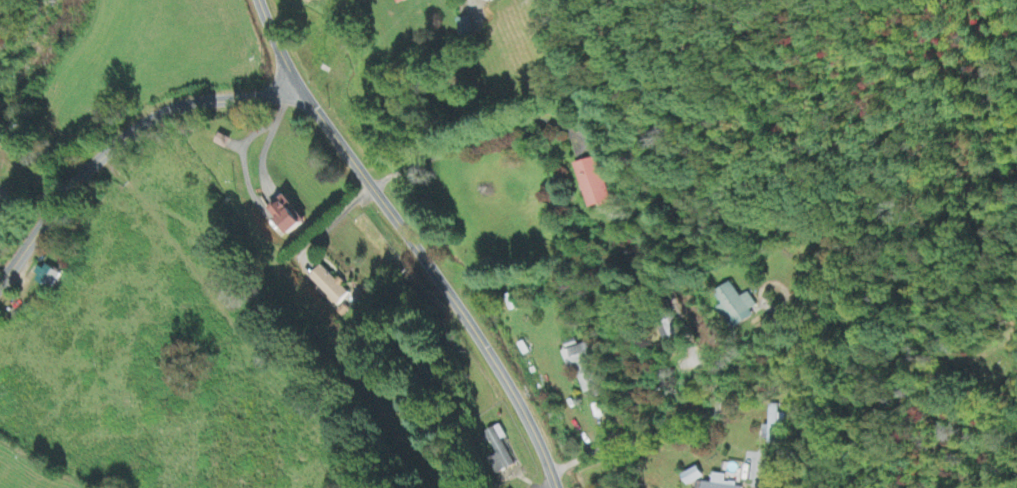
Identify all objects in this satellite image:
building: (401, 2)
building: (470, 28)
road: (121, 139)
building: (592, 184)
building: (287, 217)
road: (410, 240)
building: (46, 279)
building: (328, 287)
building: (736, 307)
building: (583, 368)
road: (682, 423)
building: (772, 426)
building: (498, 454)
building: (693, 478)
building: (719, 483)

